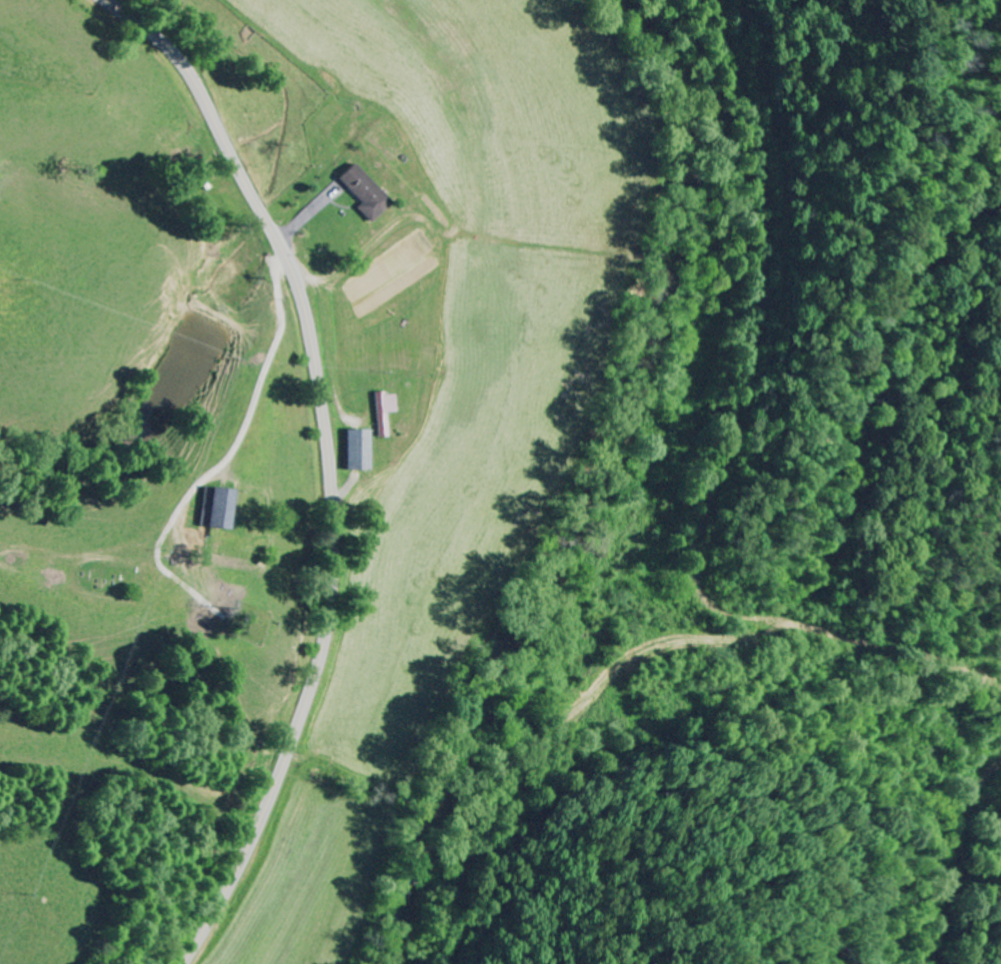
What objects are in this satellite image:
building: (365, 191)
road: (279, 271)
building: (386, 412)
building: (358, 450)
road: (333, 461)
river: (582, 488)
building: (216, 508)

